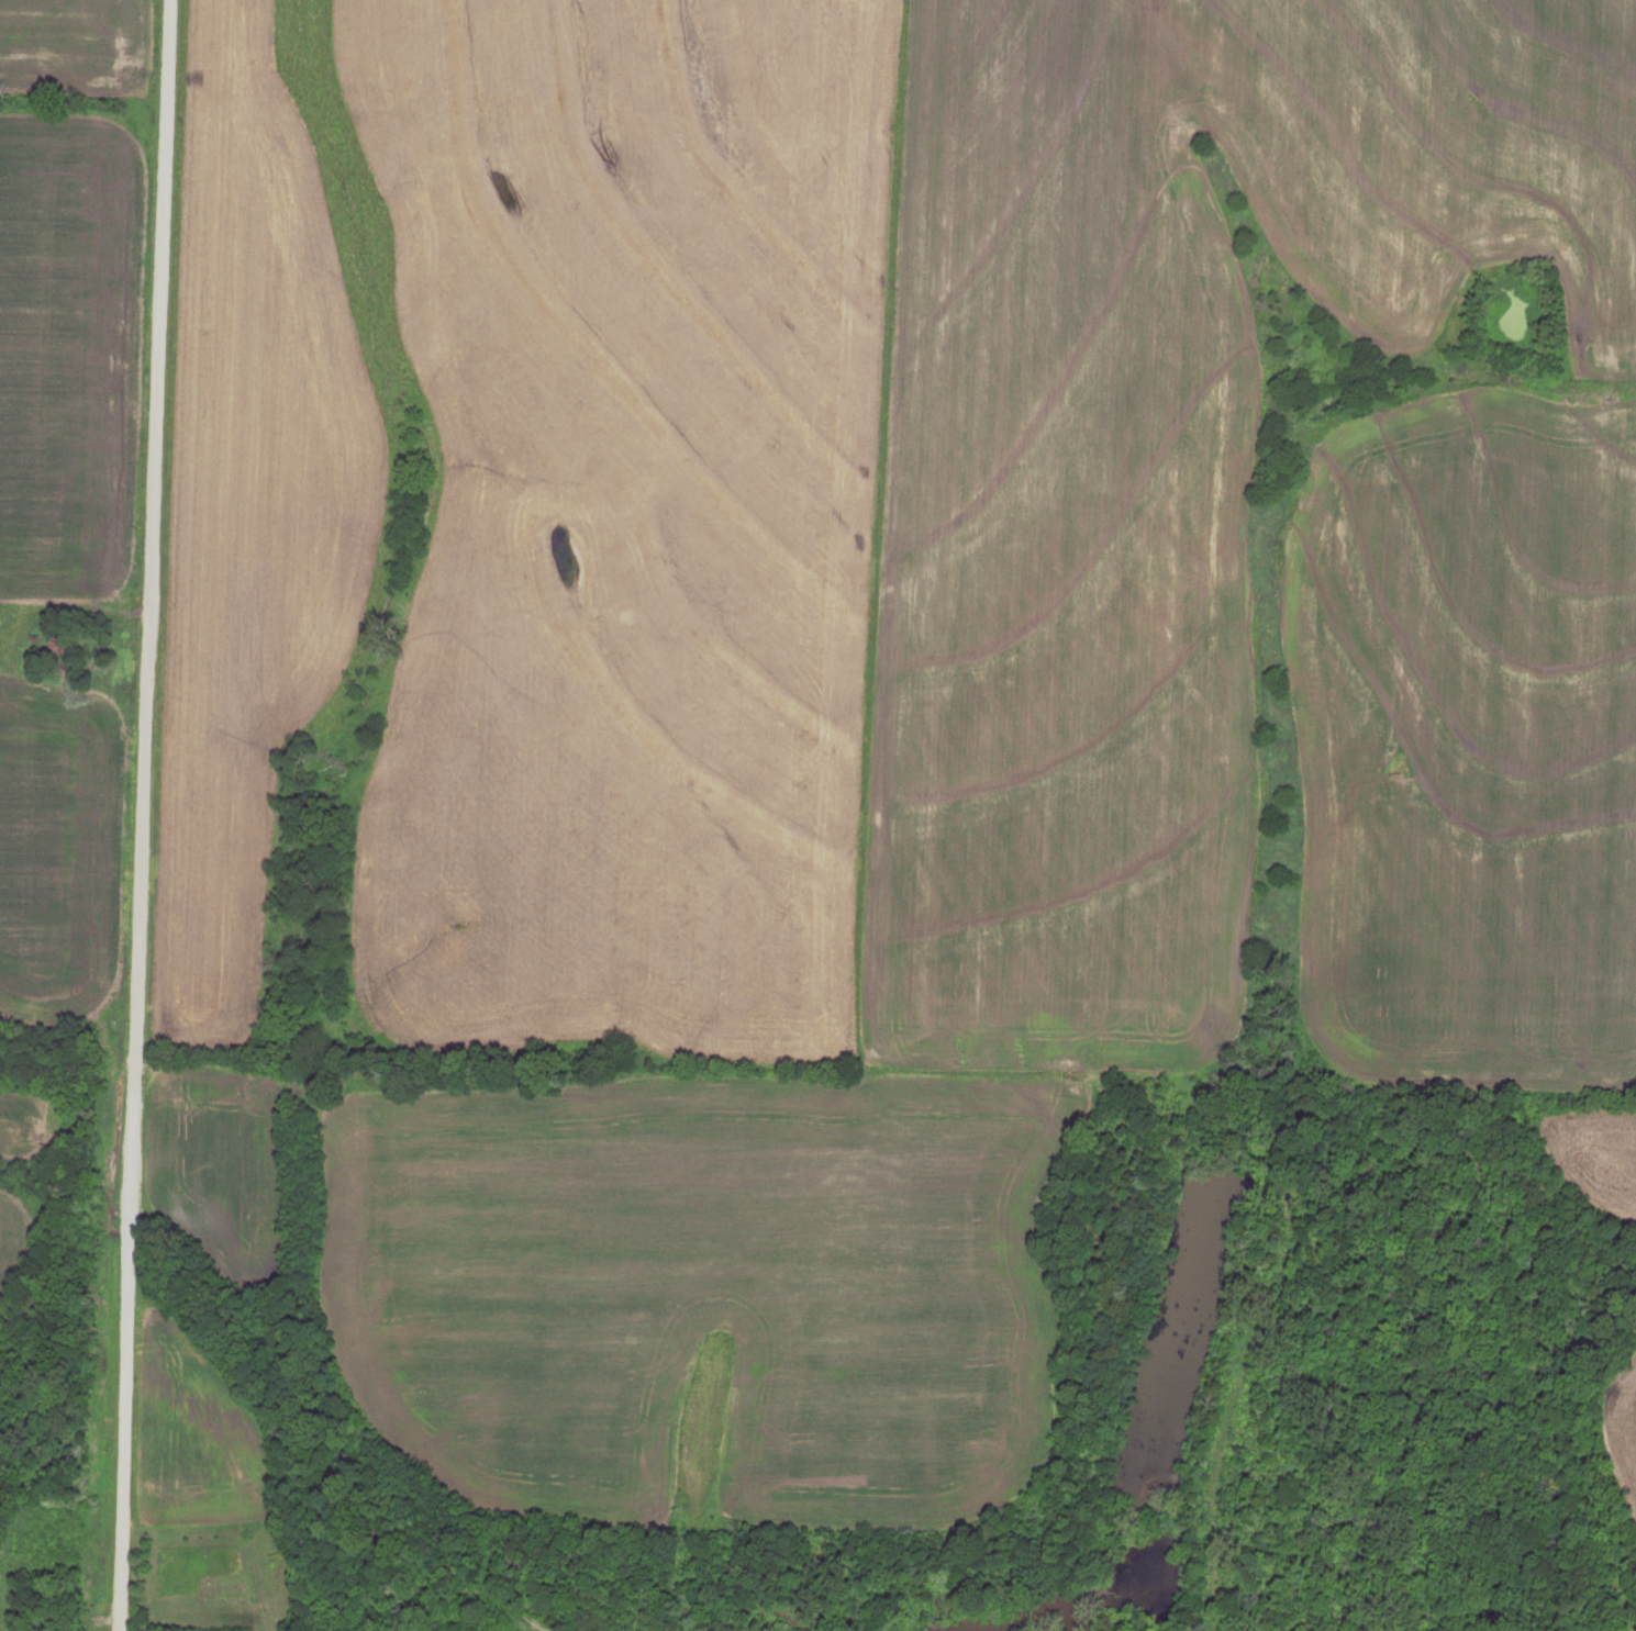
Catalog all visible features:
road: (140, 815)

